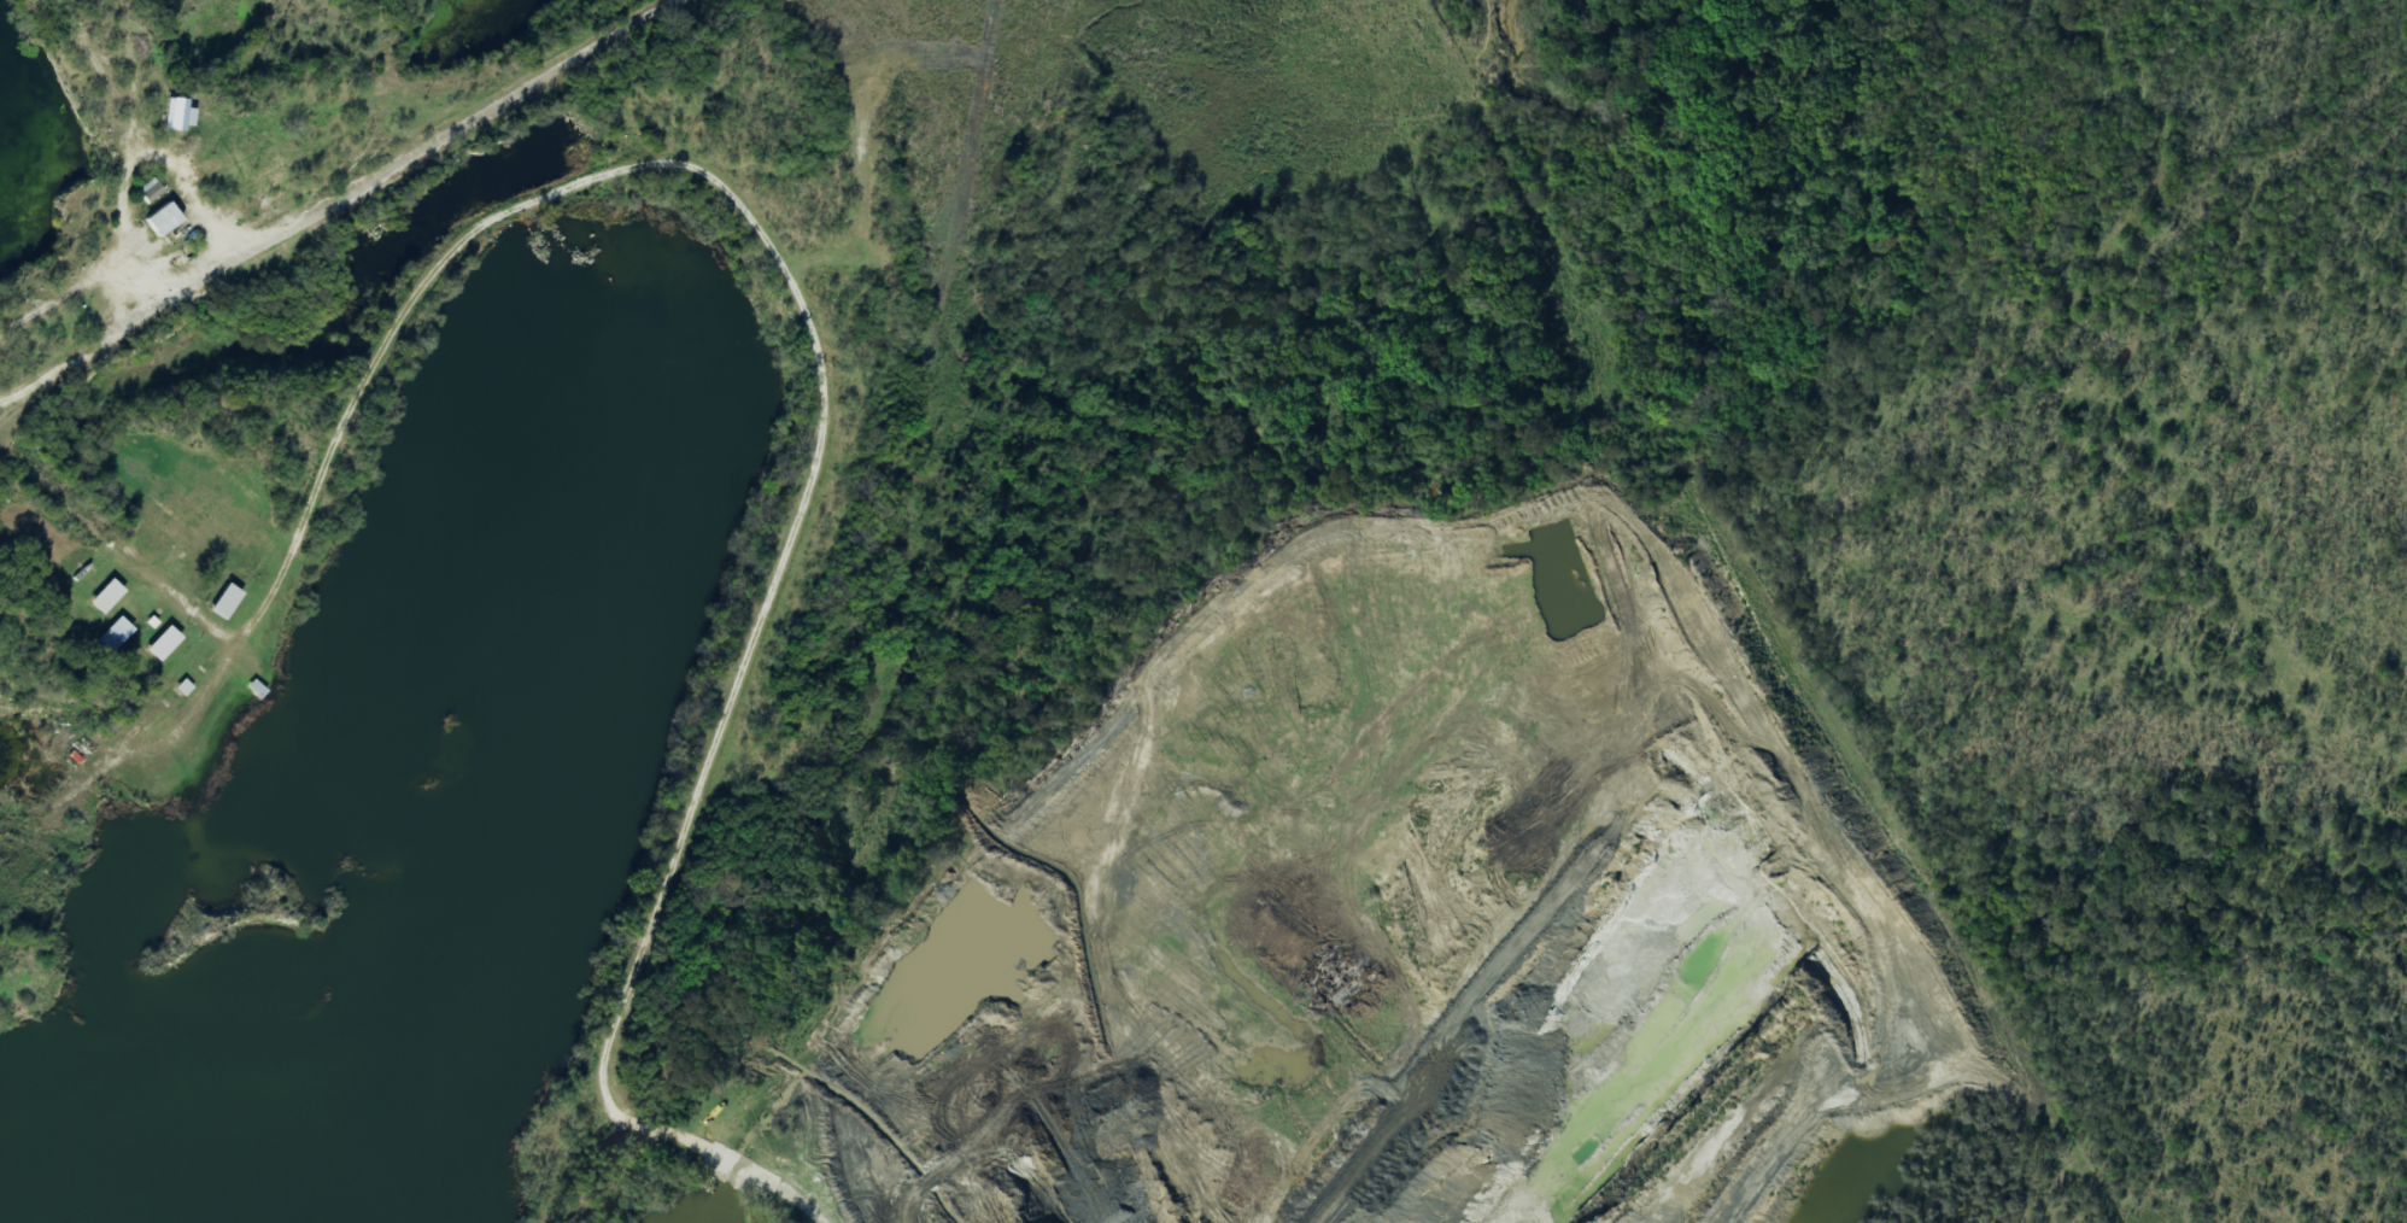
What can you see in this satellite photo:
building: (180, 116)
building: (151, 192)
road: (376, 204)
building: (164, 221)

